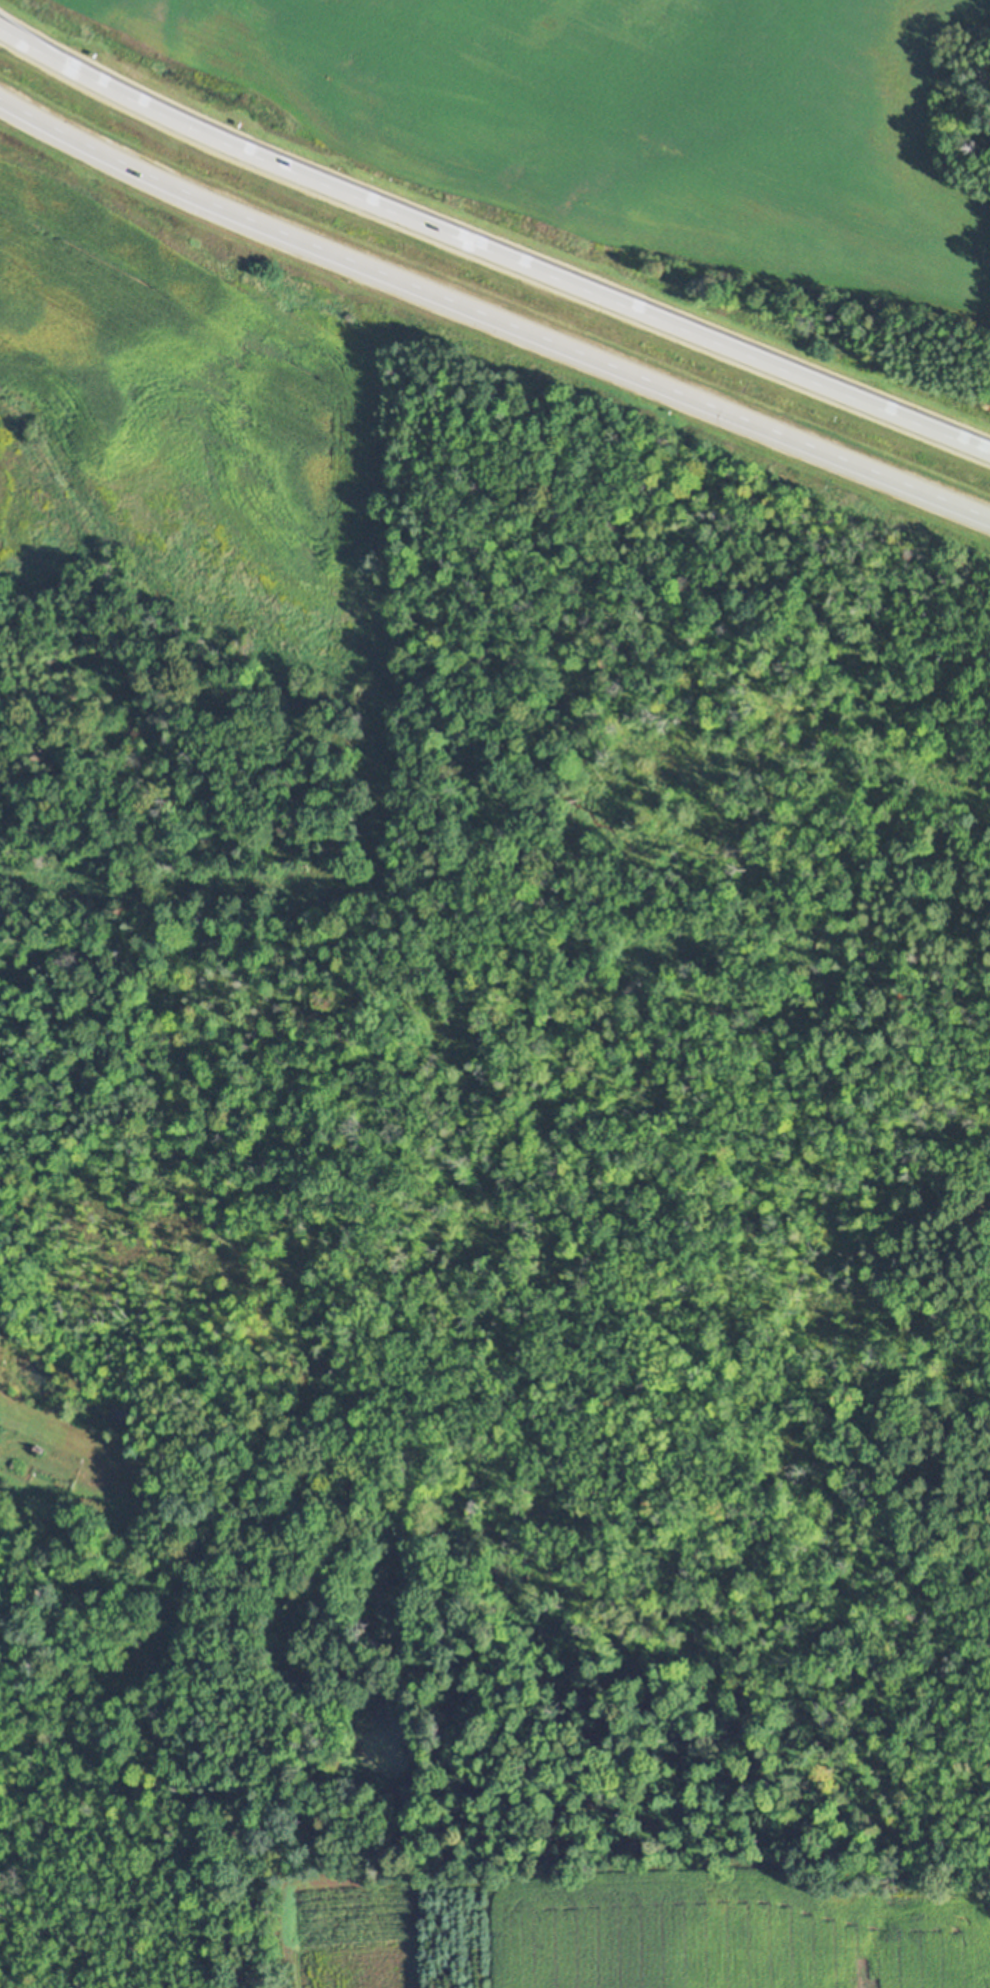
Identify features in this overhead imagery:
road: (489, 250)
road: (491, 316)

